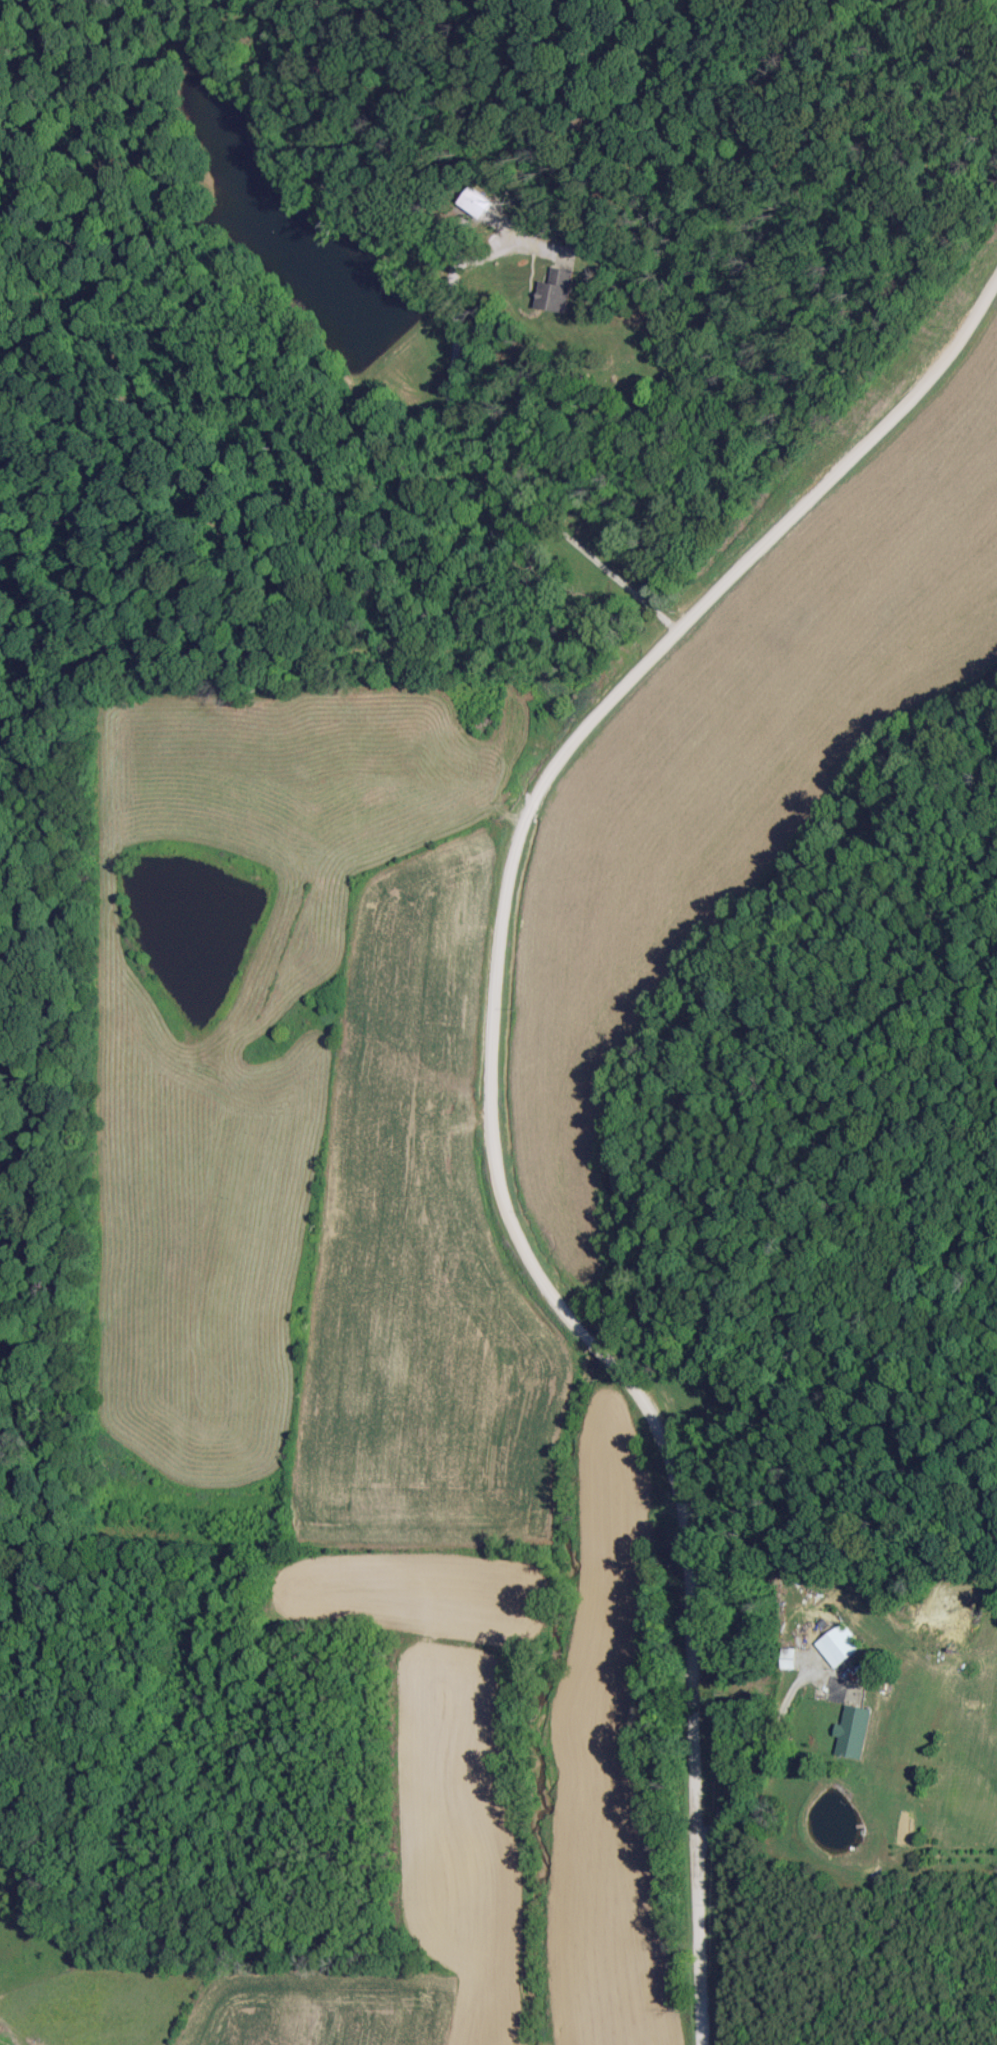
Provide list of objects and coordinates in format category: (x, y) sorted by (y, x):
building: (474, 202)
building: (553, 290)
road: (478, 446)
road: (491, 1095)
building: (838, 1642)
building: (850, 1731)

